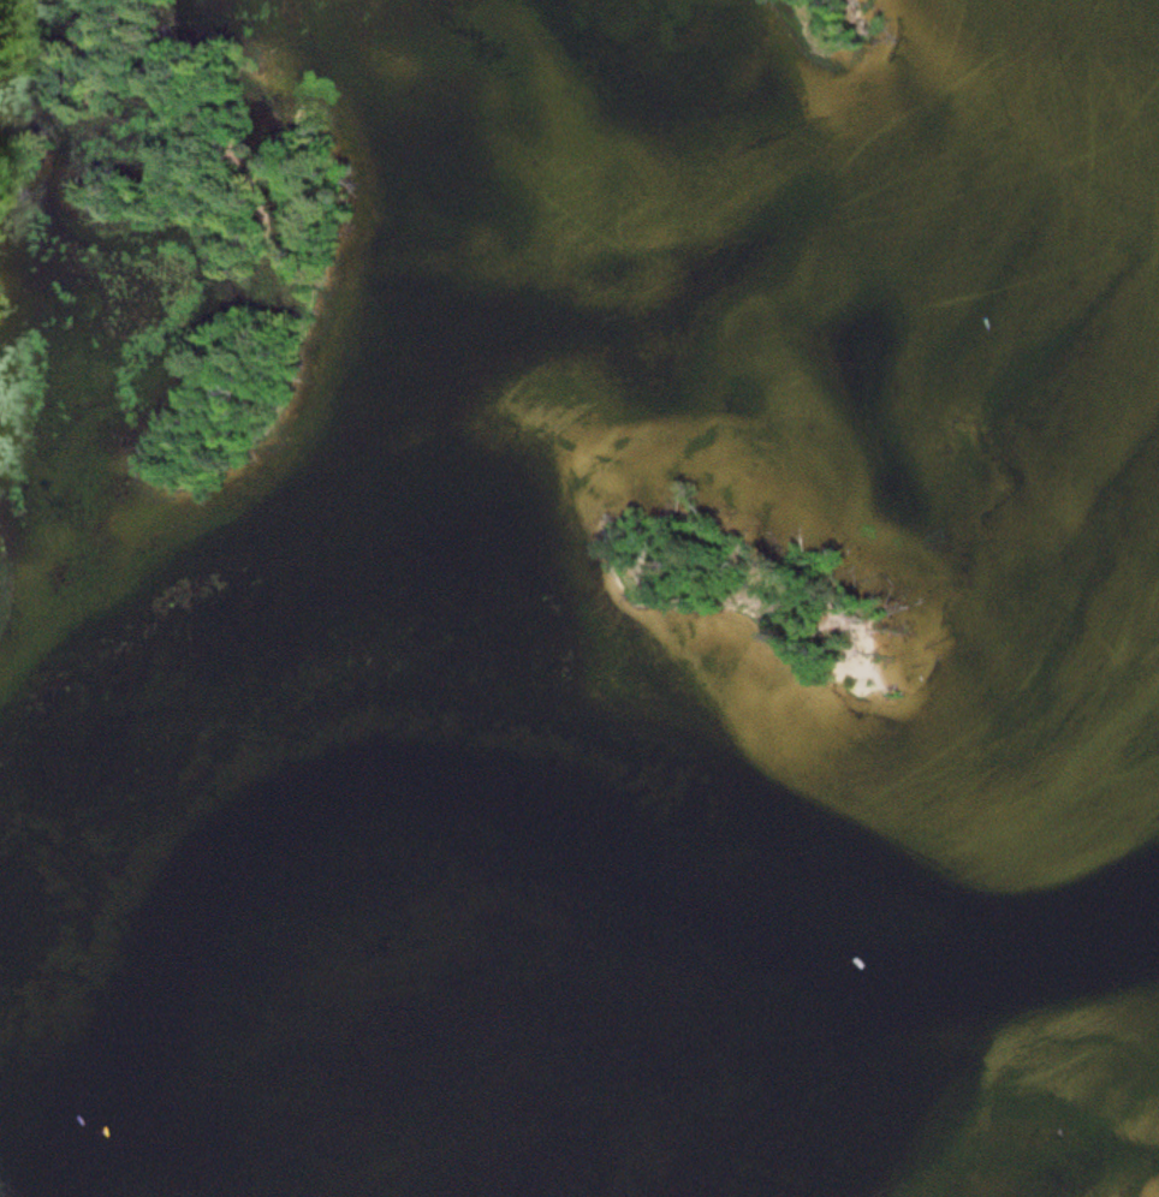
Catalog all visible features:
park: (842, 17)
park: (213, 197)
park: (1, 531)
river: (635, 1050)

